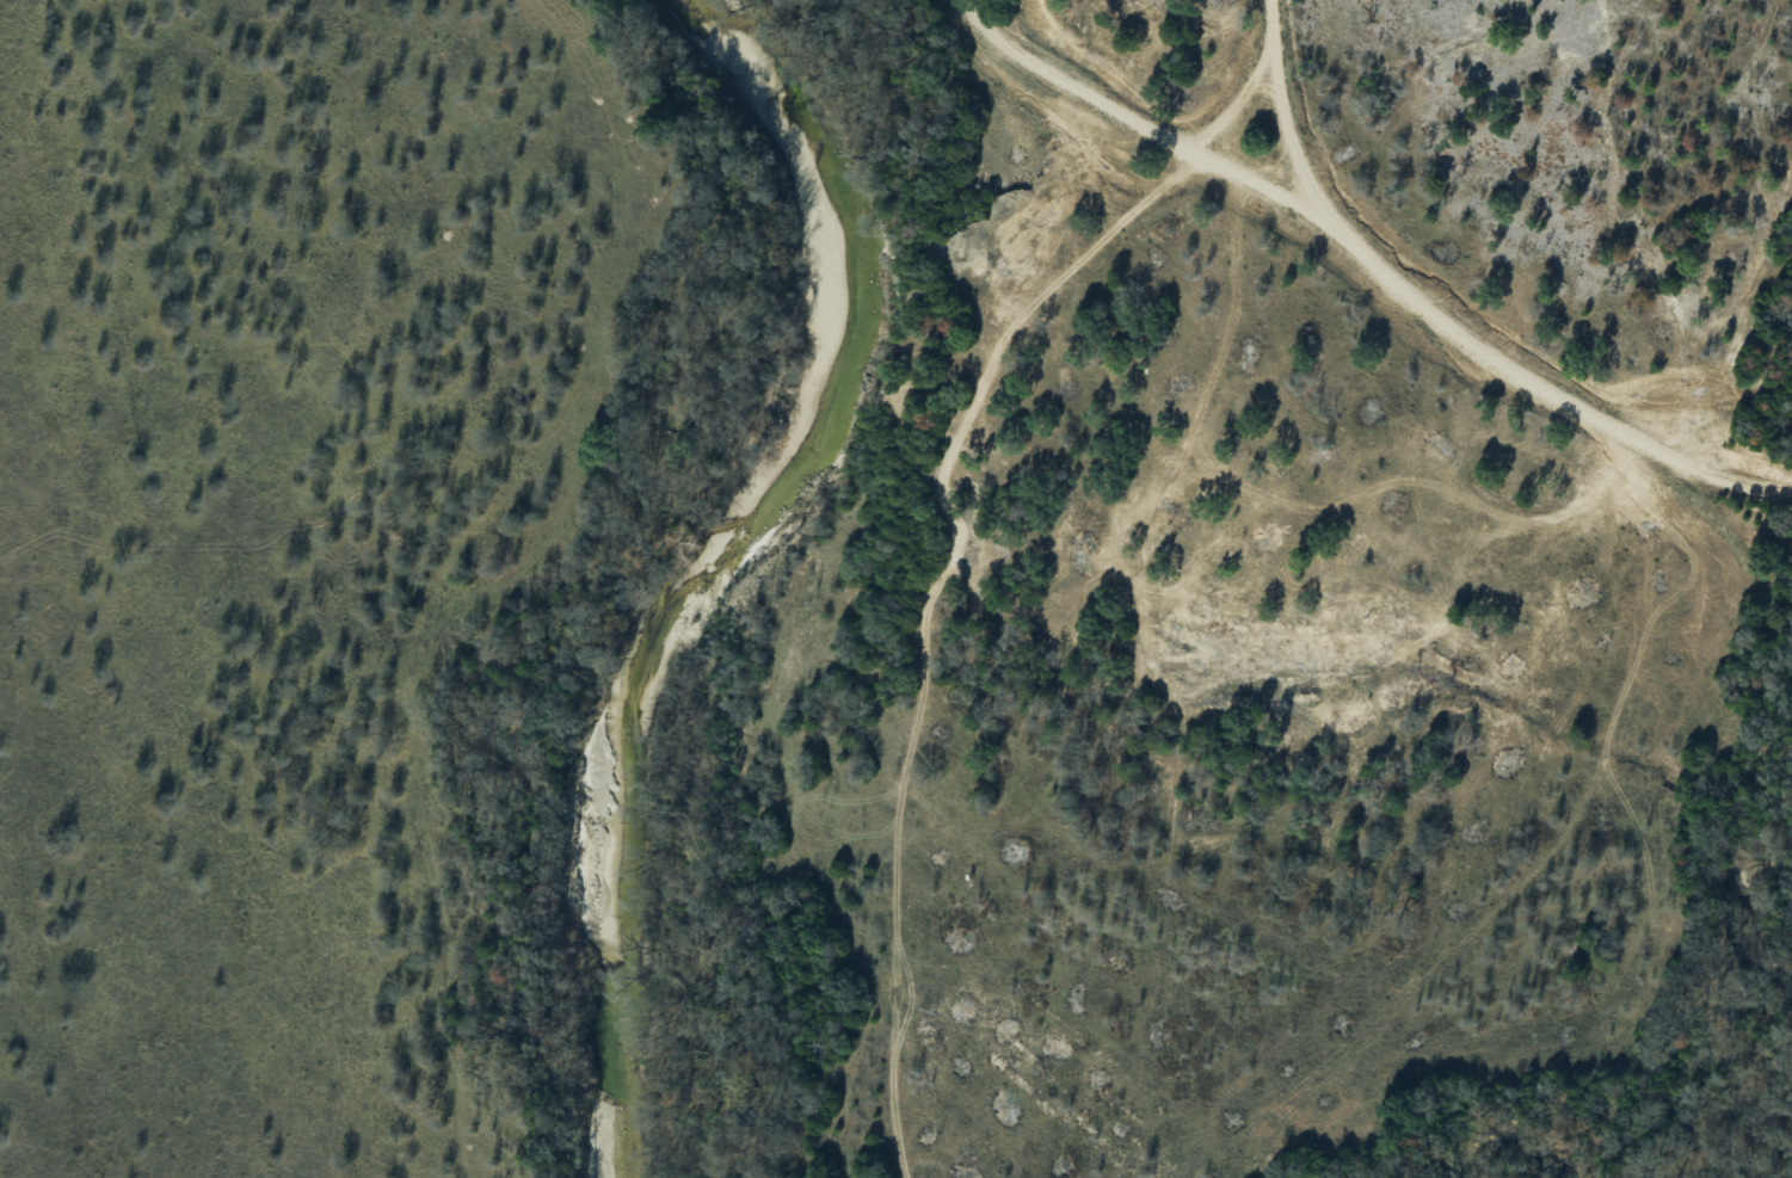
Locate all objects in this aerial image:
road: (1256, 85)
road: (1371, 260)
river: (709, 562)

